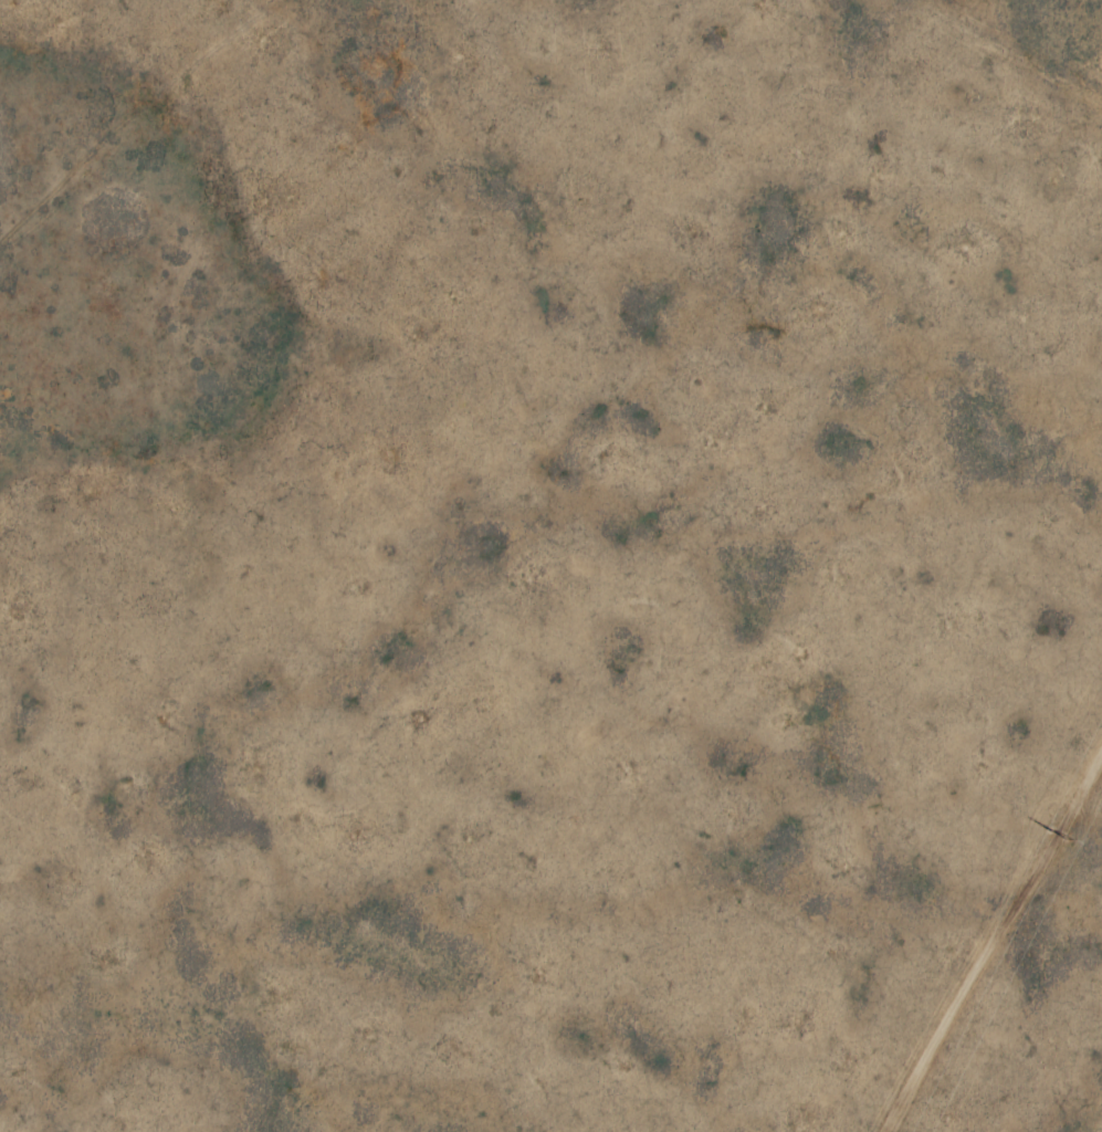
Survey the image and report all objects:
power tower: (1057, 835)

